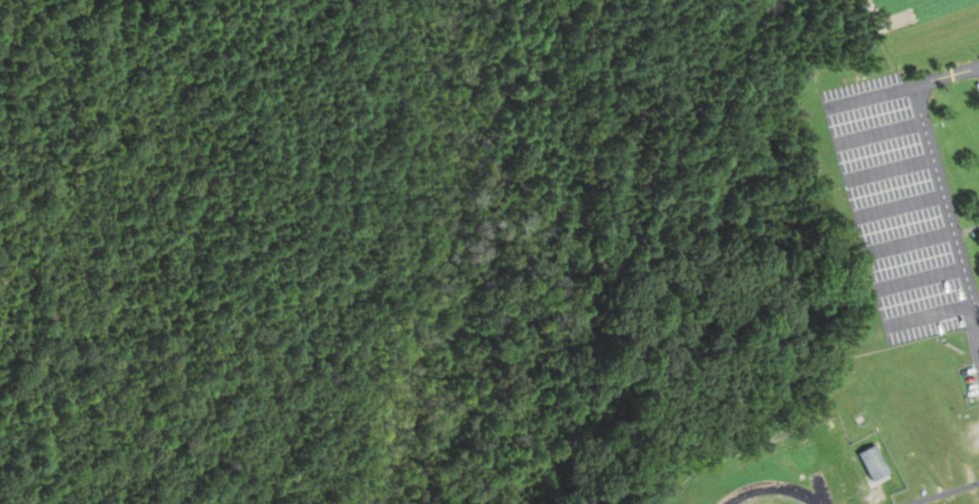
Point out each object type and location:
road: (908, 85)
road: (946, 196)
building: (873, 462)

